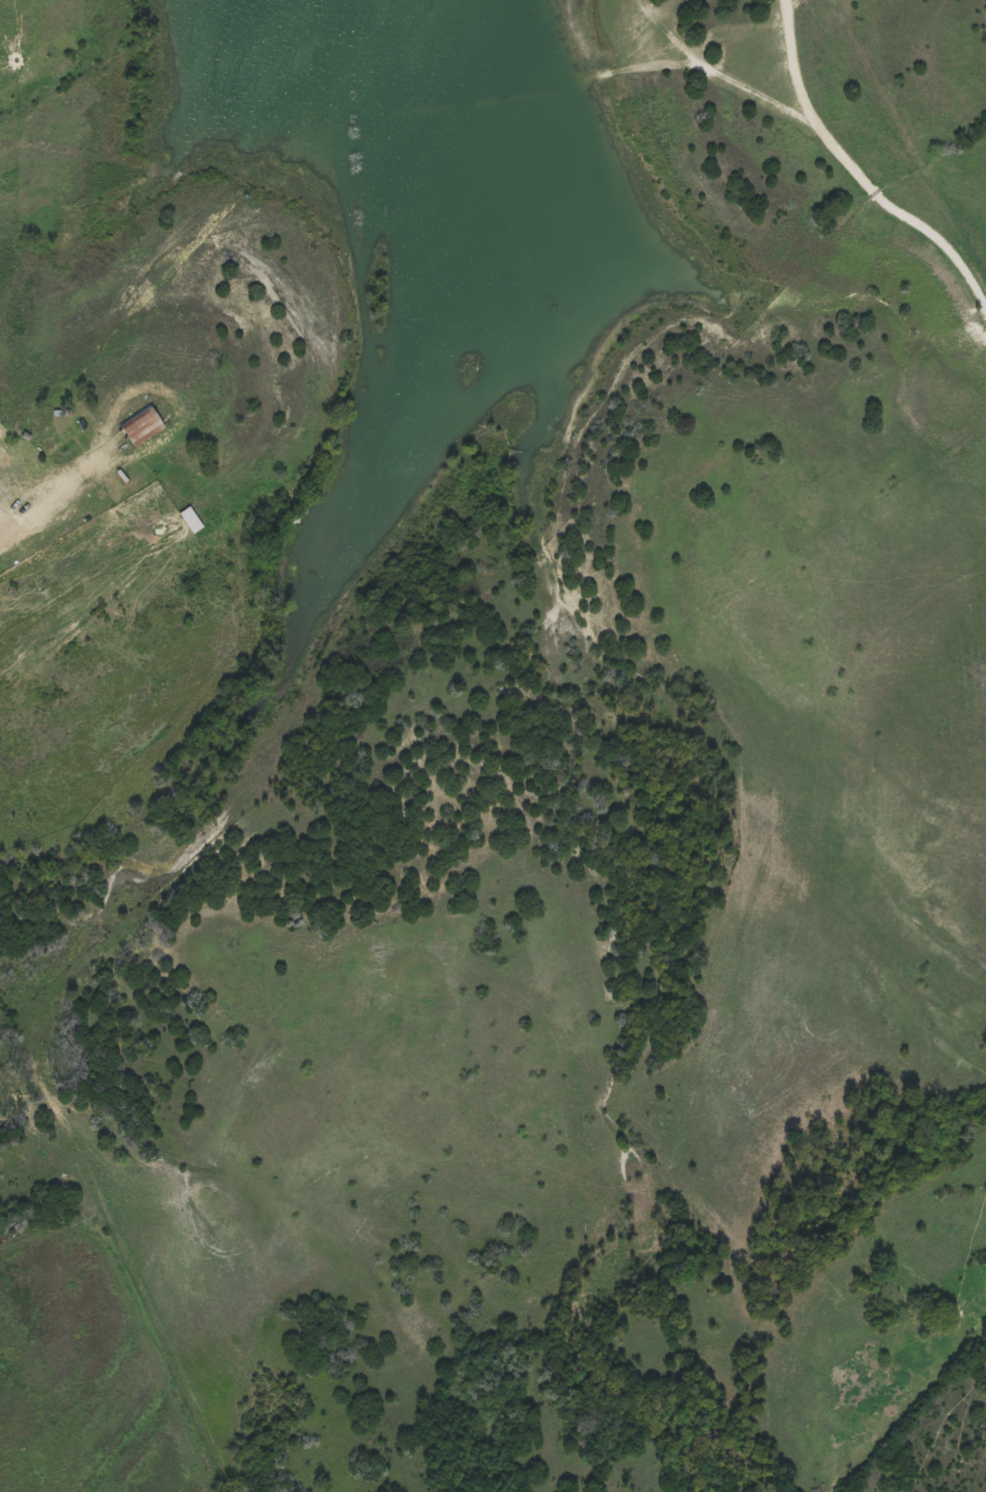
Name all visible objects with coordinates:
road: (708, 60)
road: (796, 61)
road: (861, 178)
building: (143, 425)
building: (65, 434)

